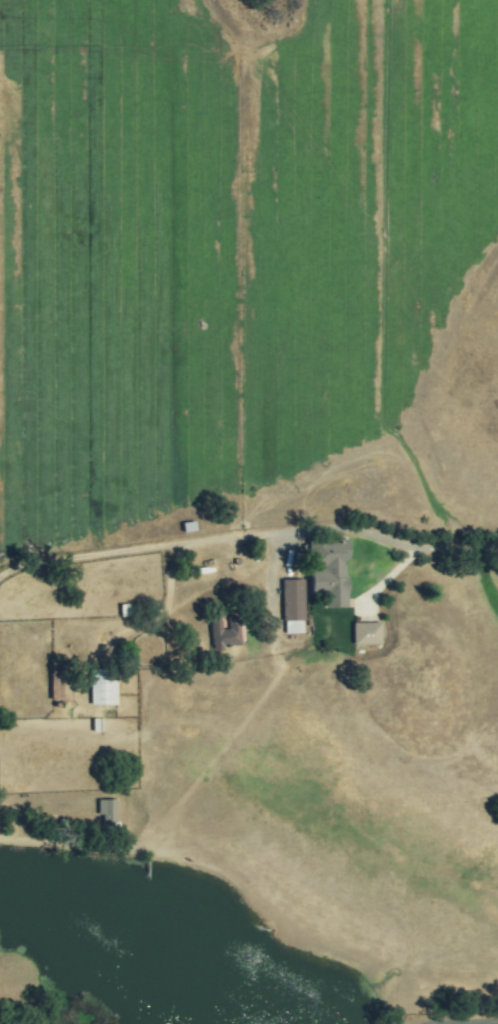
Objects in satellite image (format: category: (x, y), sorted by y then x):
road: (318, 528)
building: (328, 570)
building: (293, 606)
building: (224, 633)
building: (366, 633)
building: (58, 680)
building: (102, 687)
building: (107, 811)
road: (473, 1023)

